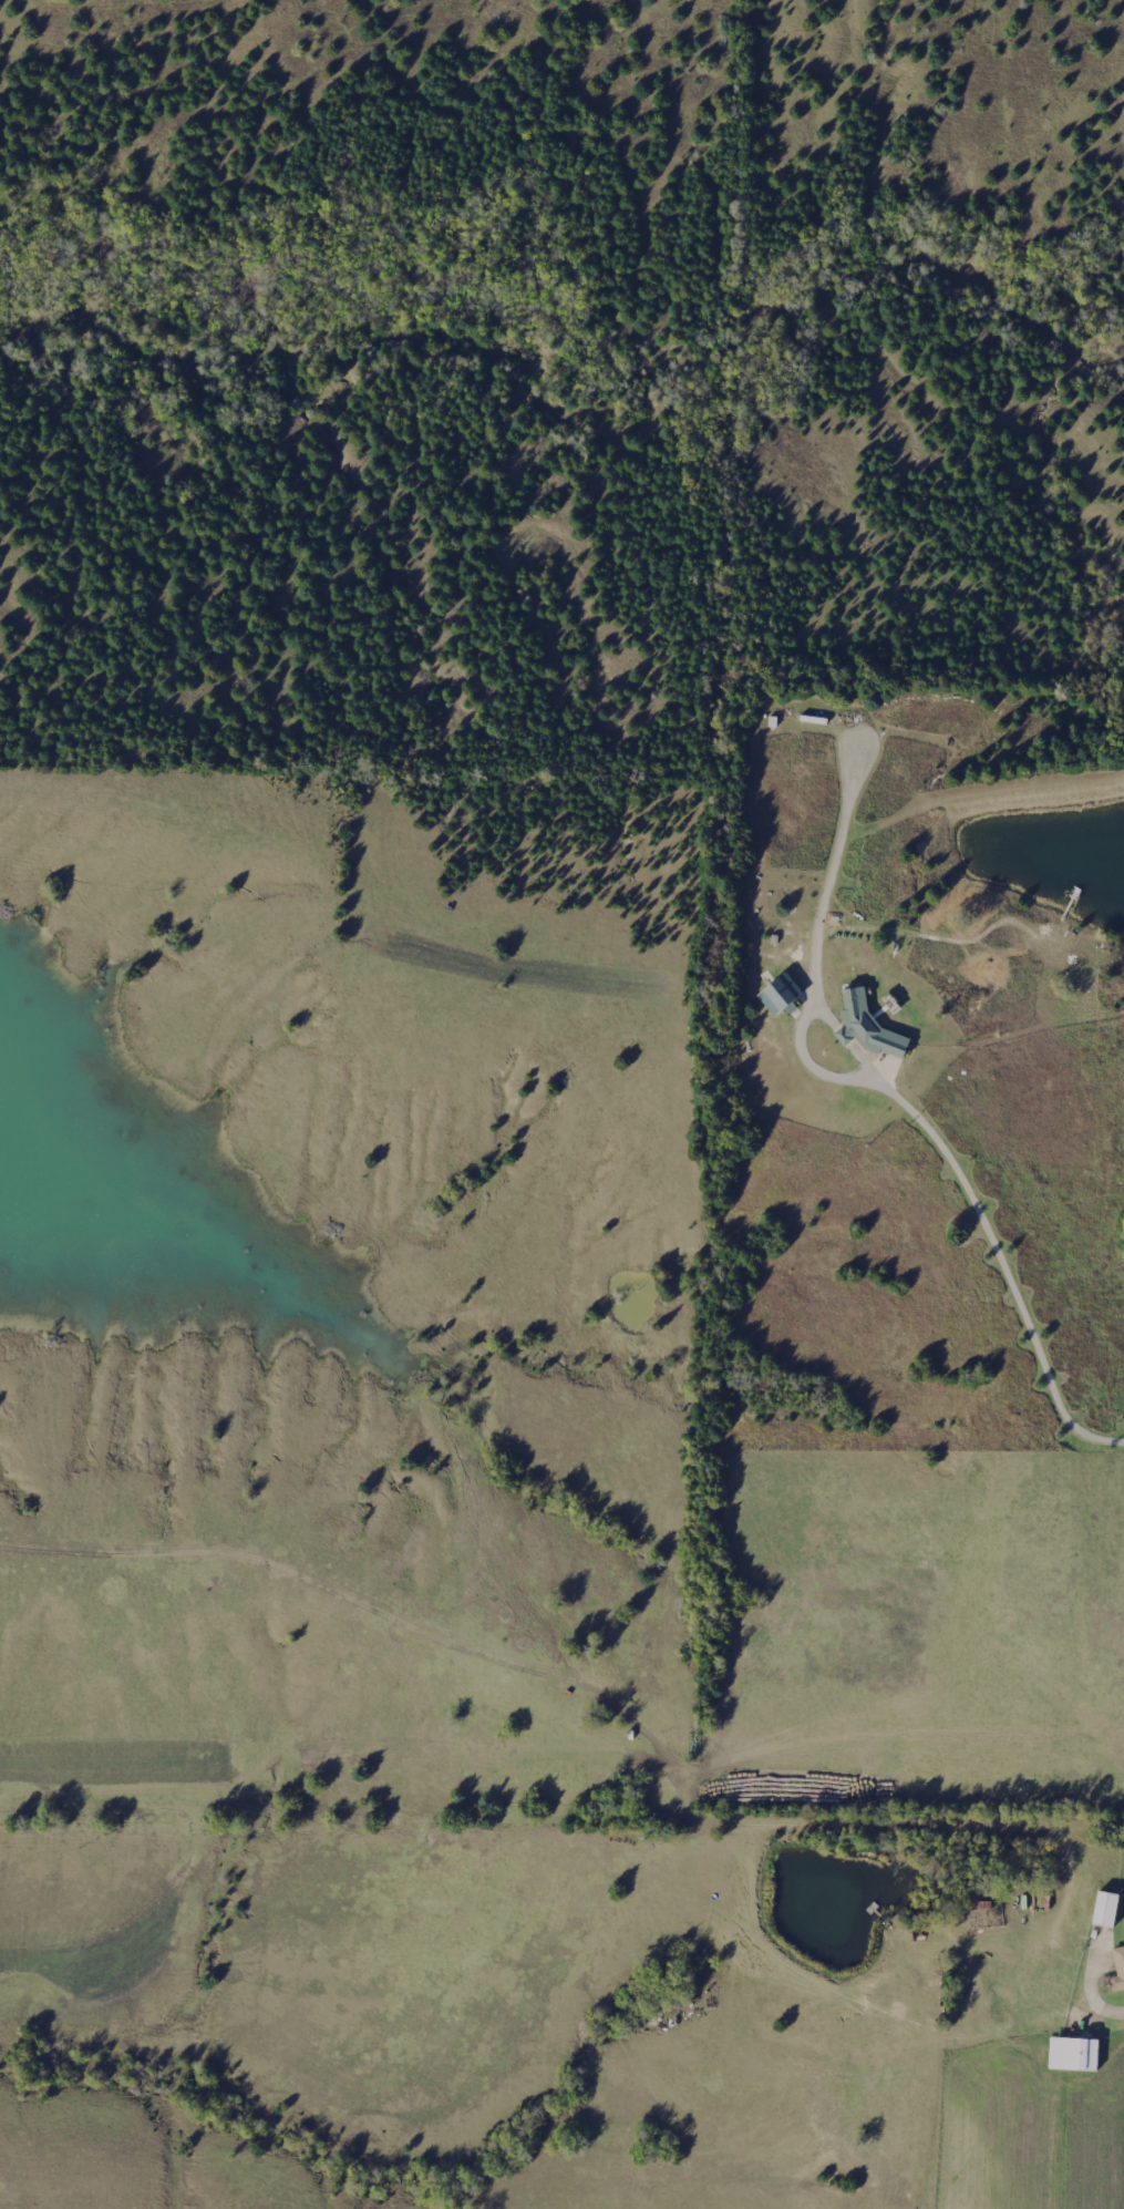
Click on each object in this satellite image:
building: (780, 995)
building: (868, 1027)
building: (1105, 1910)
building: (1118, 1970)
building: (1073, 2055)

